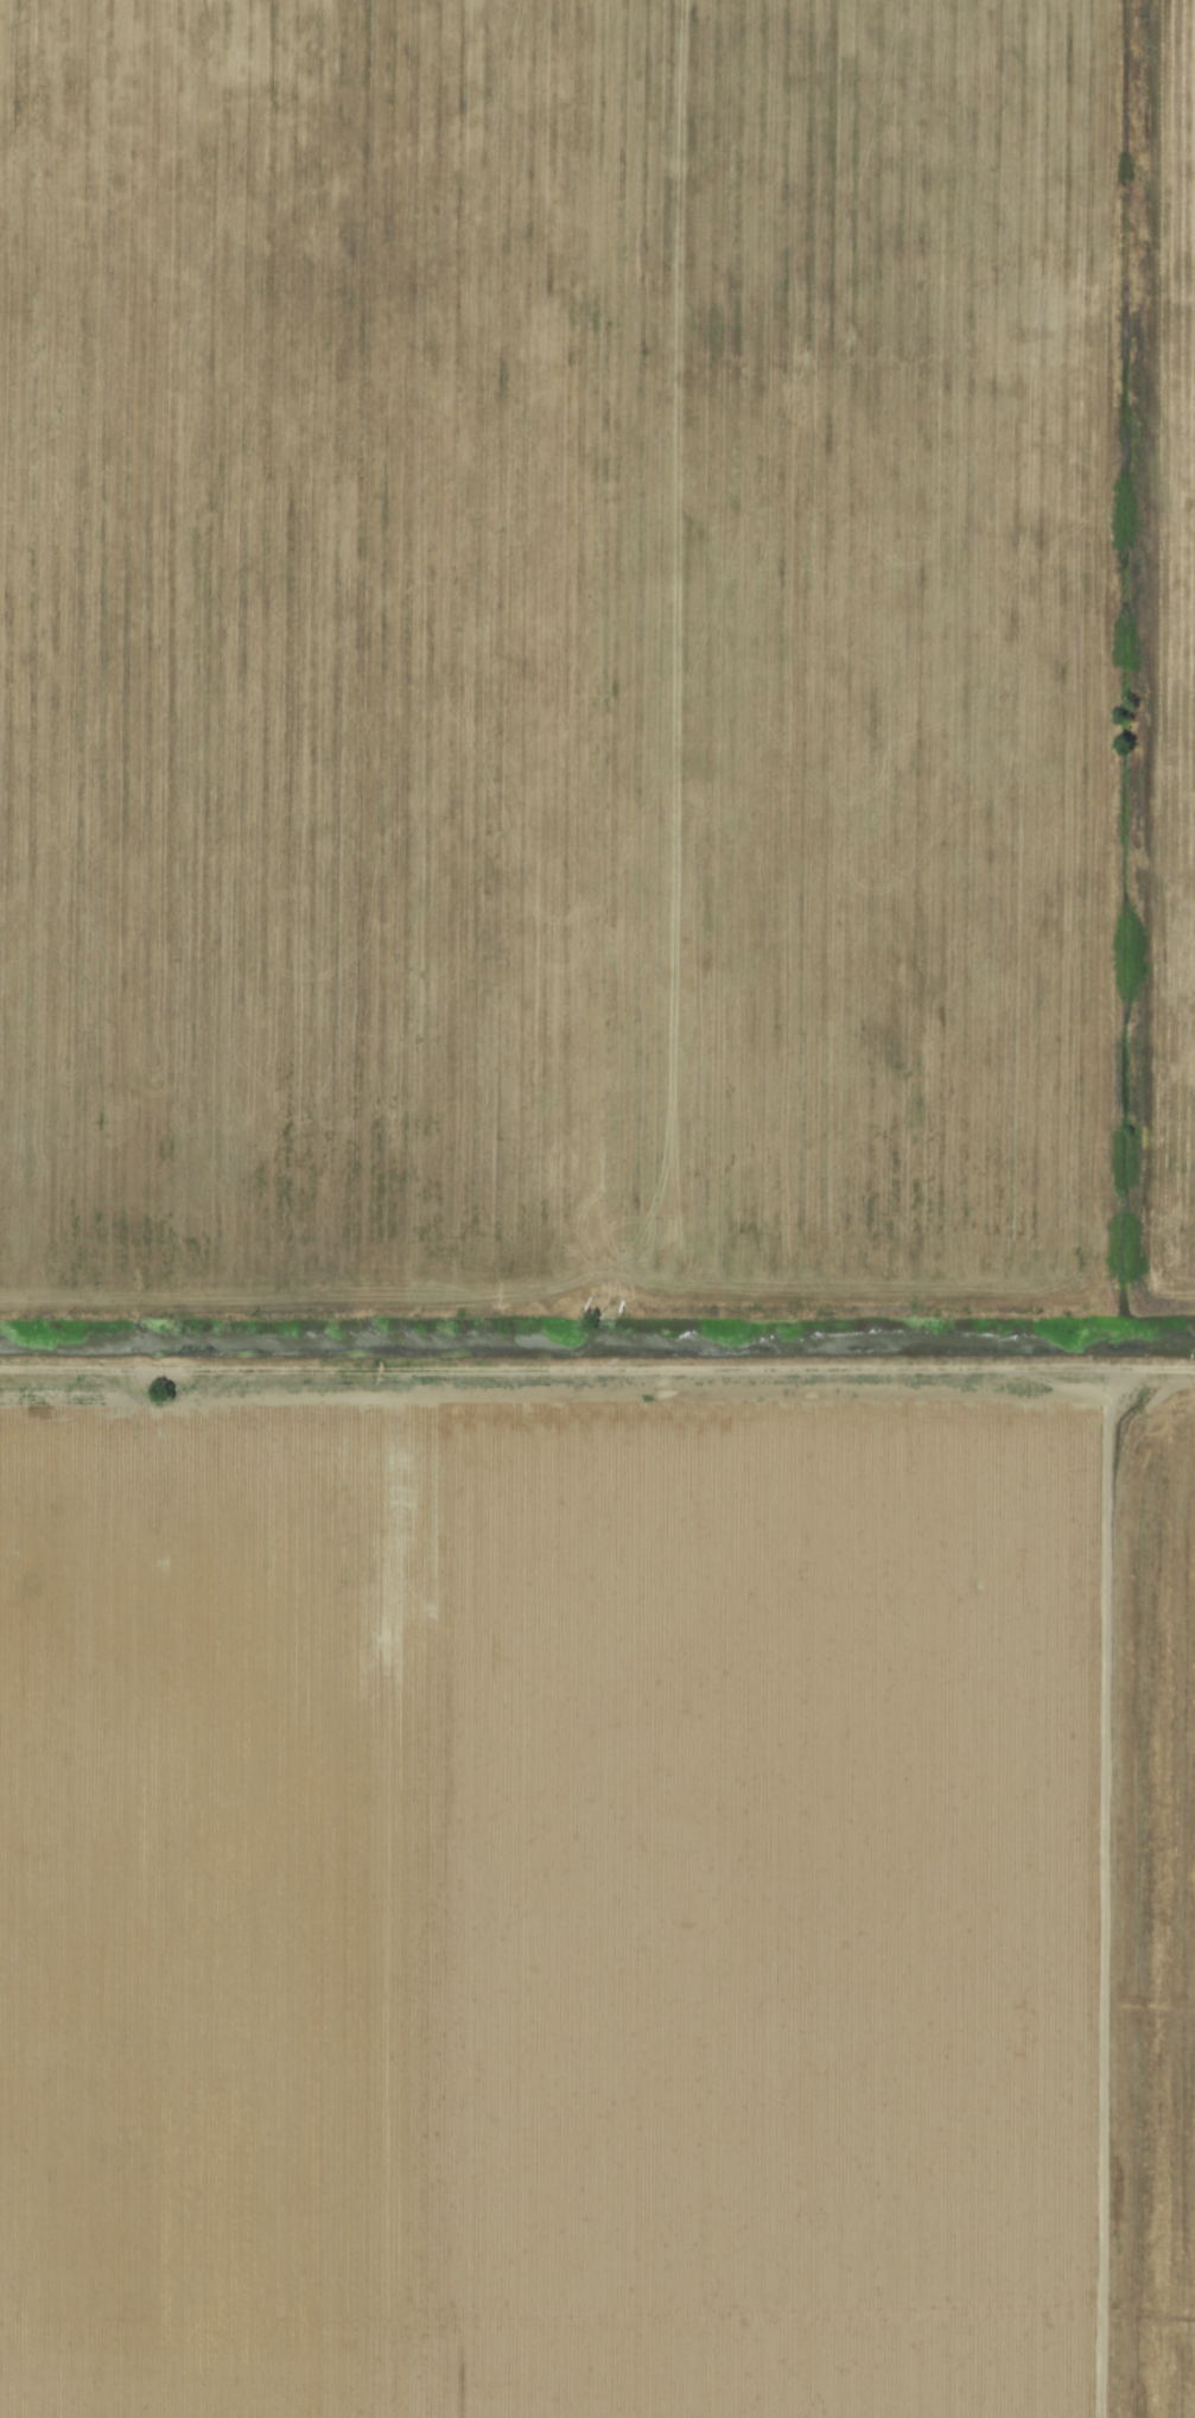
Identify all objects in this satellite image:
crop: (596, 1899)

